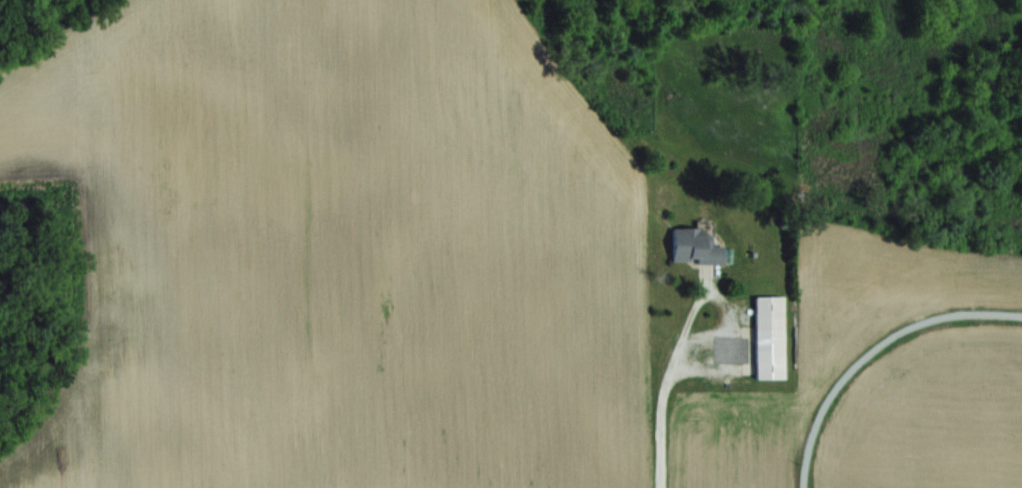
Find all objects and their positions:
building: (691, 244)
road: (718, 305)
building: (768, 335)
road: (654, 407)

